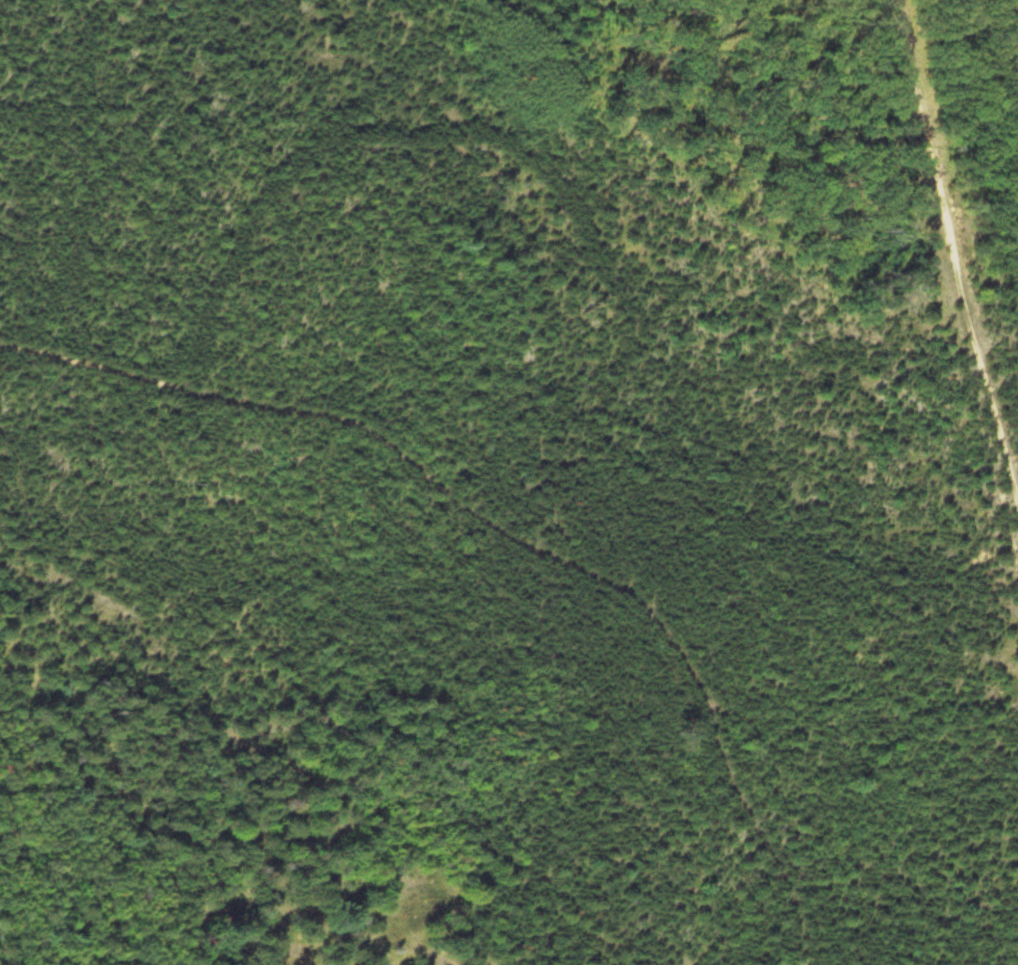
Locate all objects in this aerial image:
road: (960, 240)
road: (512, 529)

